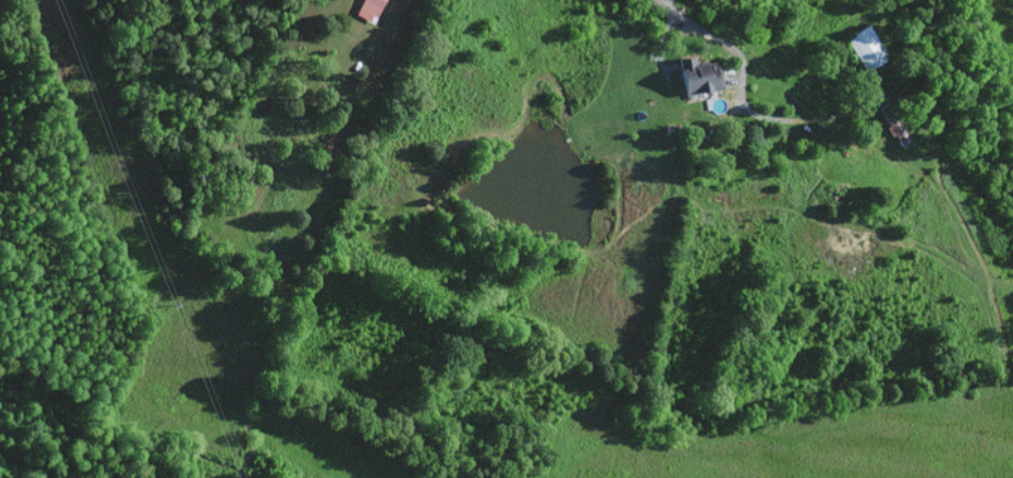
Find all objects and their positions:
building: (367, 8)
road: (725, 43)
building: (865, 46)
building: (699, 74)
building: (895, 128)
building: (848, 150)

